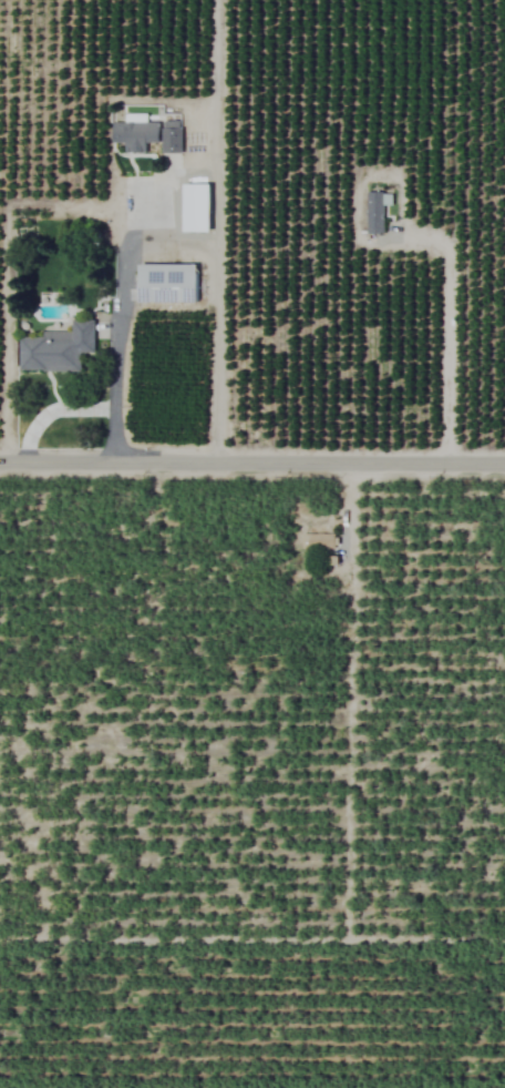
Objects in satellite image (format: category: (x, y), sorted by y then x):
building: (134, 135)
building: (169, 138)
building: (196, 209)
building: (375, 212)
building: (167, 284)
road: (116, 328)
road: (445, 332)
building: (56, 349)
road: (51, 409)
road: (252, 460)
building: (317, 542)
crop: (252, 543)

